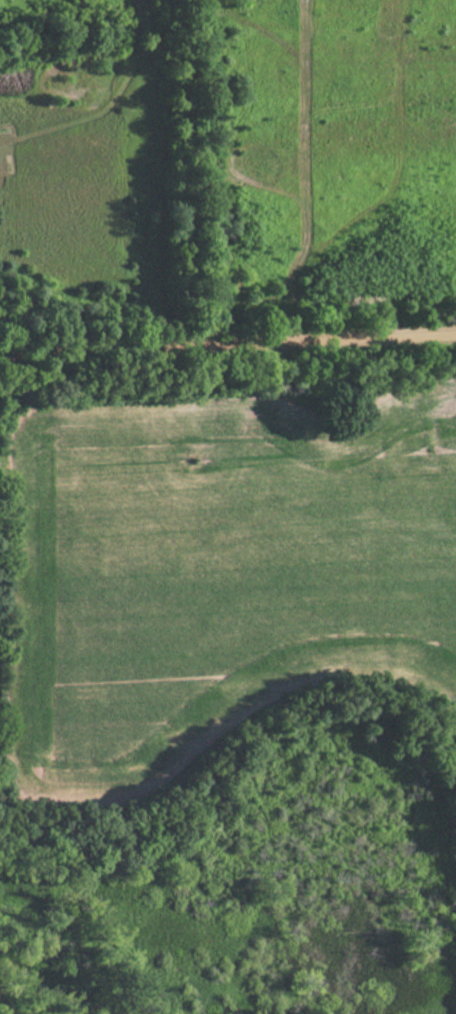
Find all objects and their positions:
road: (228, 349)

